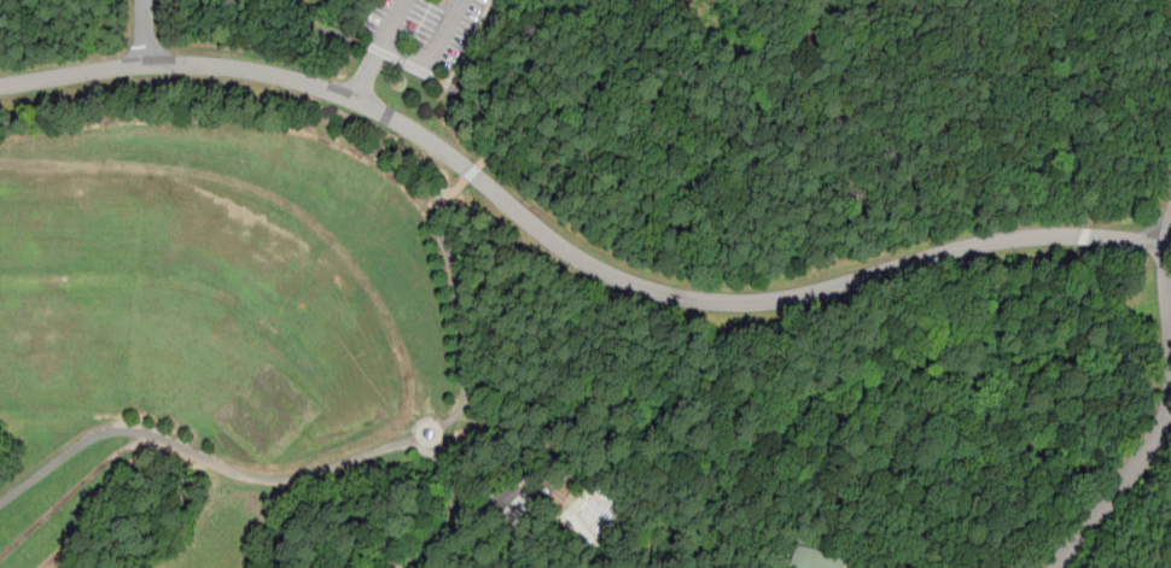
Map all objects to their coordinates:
road: (16, 5)
road: (394, 24)
road: (146, 31)
parking lot: (426, 35)
road: (445, 35)
road: (470, 42)
road: (388, 49)
road: (379, 52)
road: (665, 66)
road: (1085, 70)
road: (229, 121)
road: (491, 151)
road: (565, 248)
road: (1167, 270)
park: (585, 283)
road: (549, 298)
road: (459, 305)
road: (1101, 322)
road: (1100, 340)
road: (882, 382)
park: (272, 421)
road: (425, 422)
road: (899, 445)
road: (75, 449)
road: (297, 478)
road: (76, 487)
road: (1118, 487)
building: (561, 491)
road: (602, 500)
road: (455, 508)
road: (496, 508)
parking lot: (500, 510)
road: (557, 519)
road: (584, 523)
road: (612, 523)
road: (640, 540)
road: (530, 546)
building: (817, 558)

